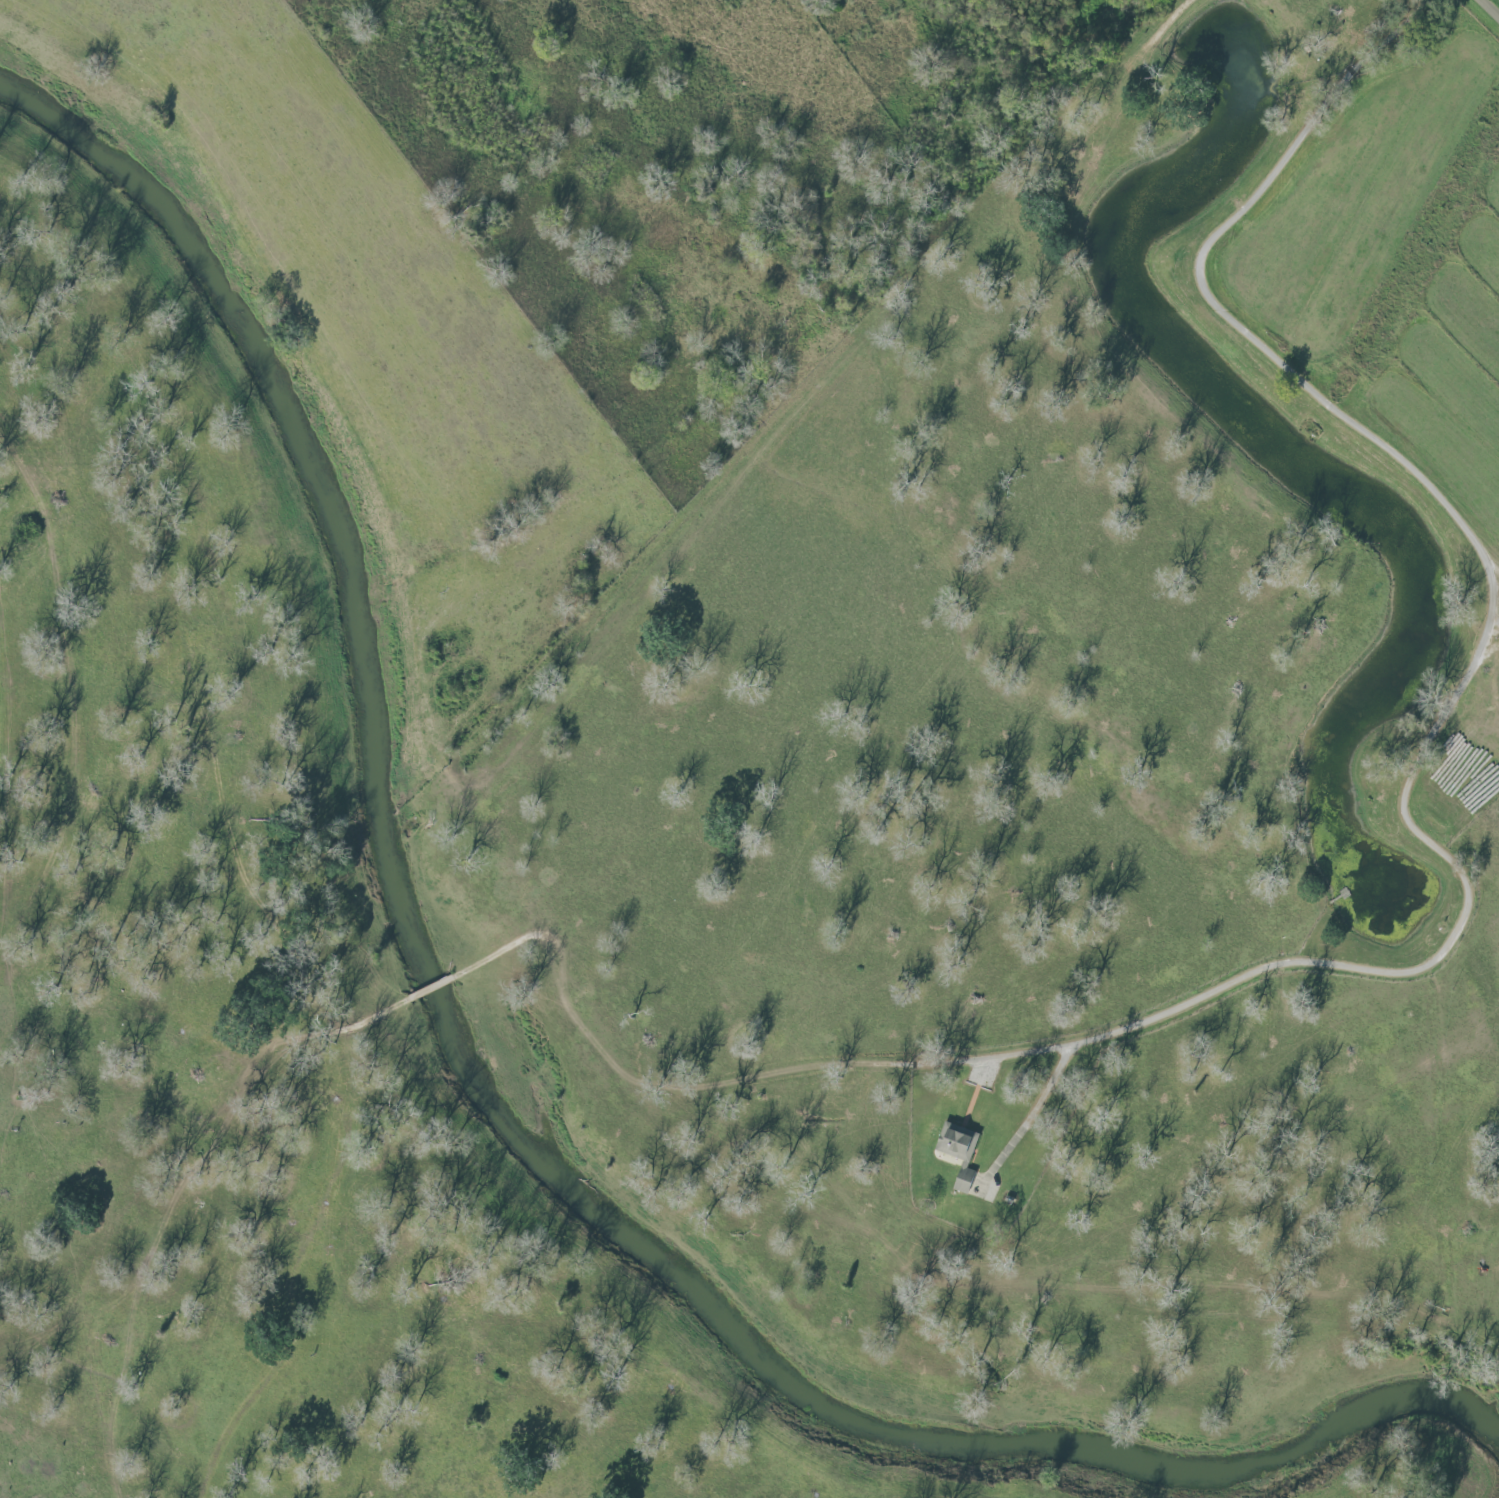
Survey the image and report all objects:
road: (1491, 7)
road: (1218, 303)
road: (1286, 966)
river: (497, 1107)
building: (954, 1138)
building: (962, 1176)

